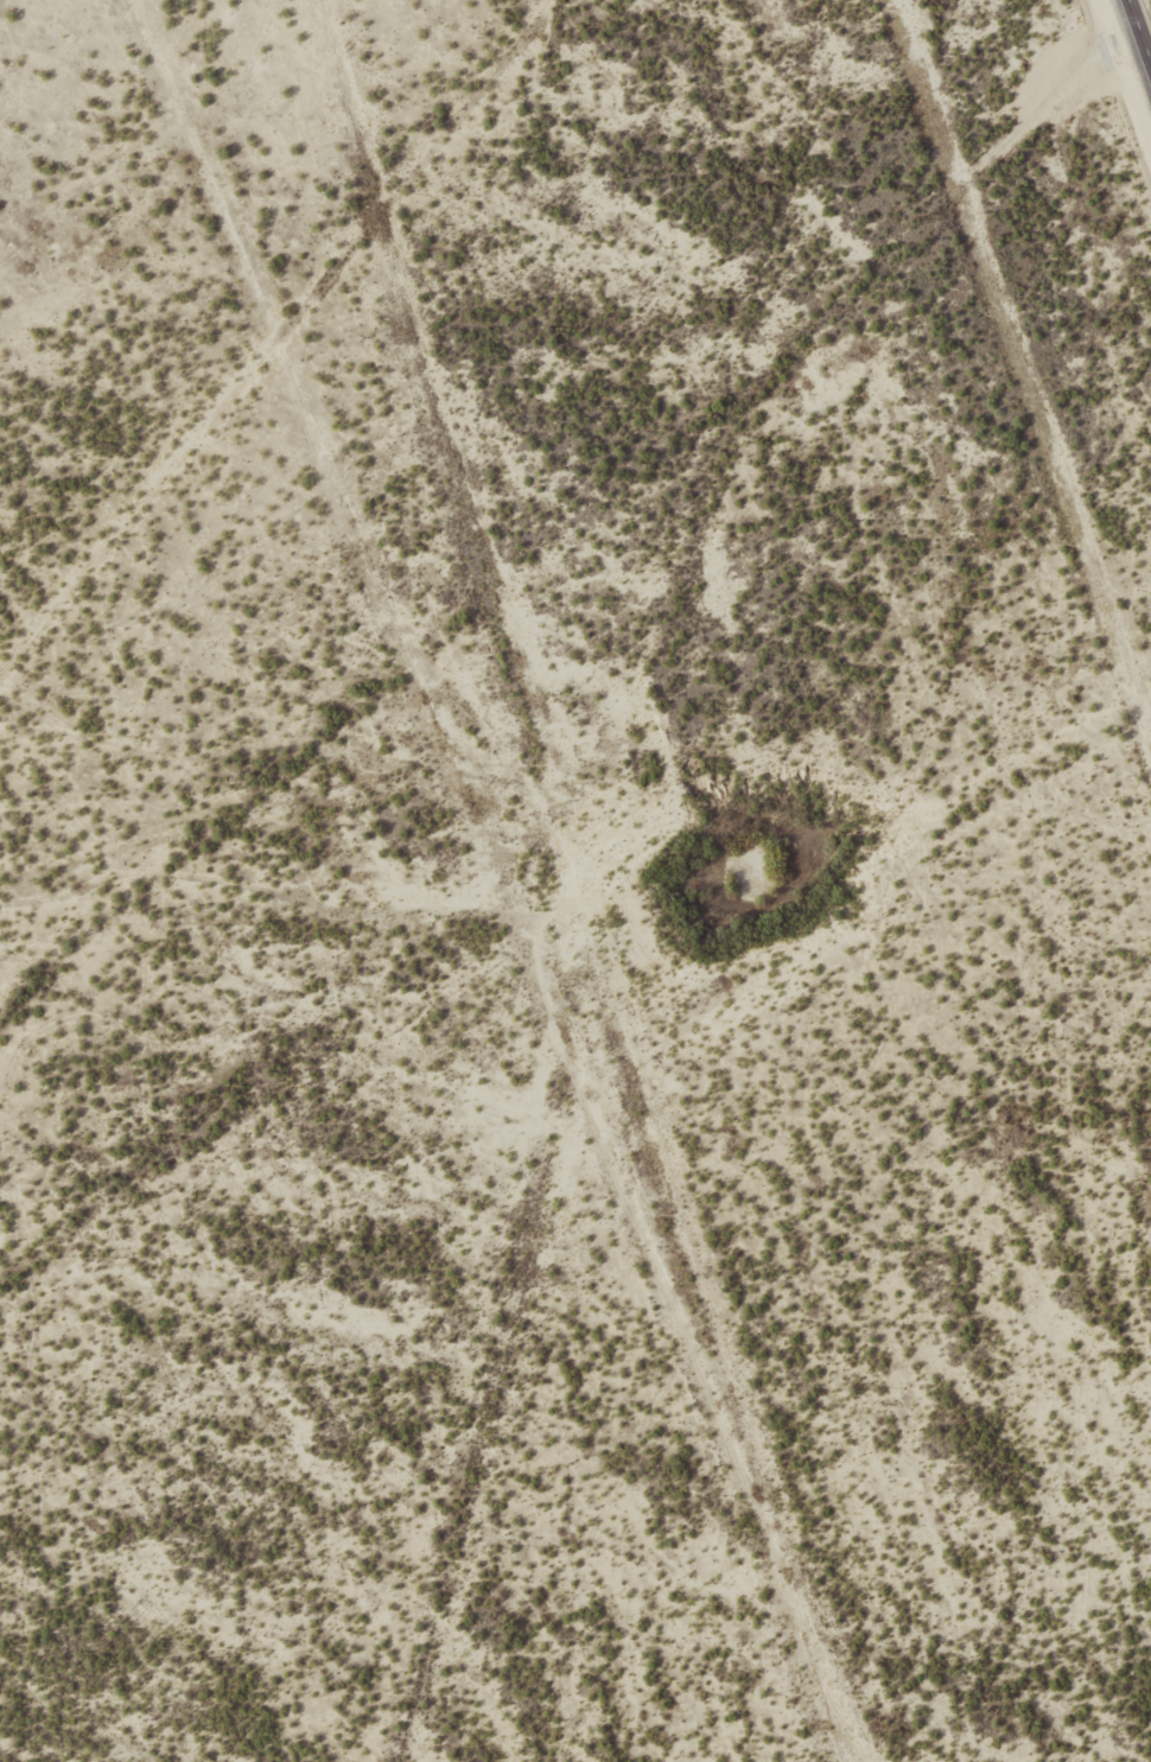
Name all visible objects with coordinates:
road: (884, 1456)

